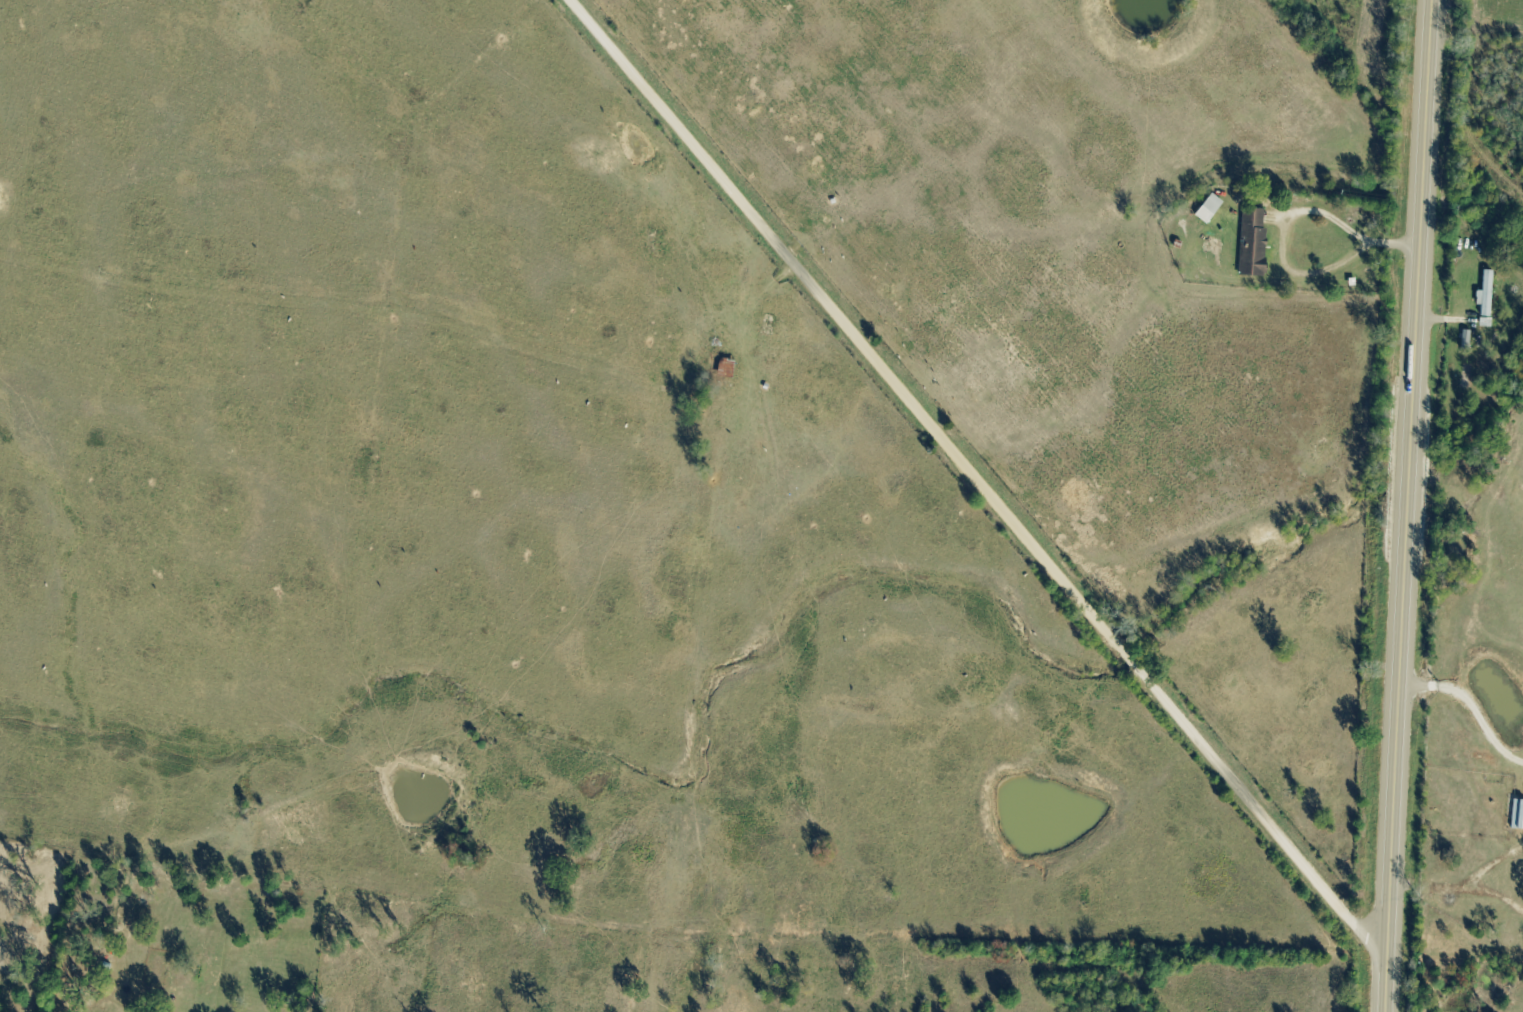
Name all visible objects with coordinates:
building: (1213, 211)
building: (1256, 245)
building: (1488, 294)
road: (981, 480)
road: (1410, 505)
building: (1519, 816)

